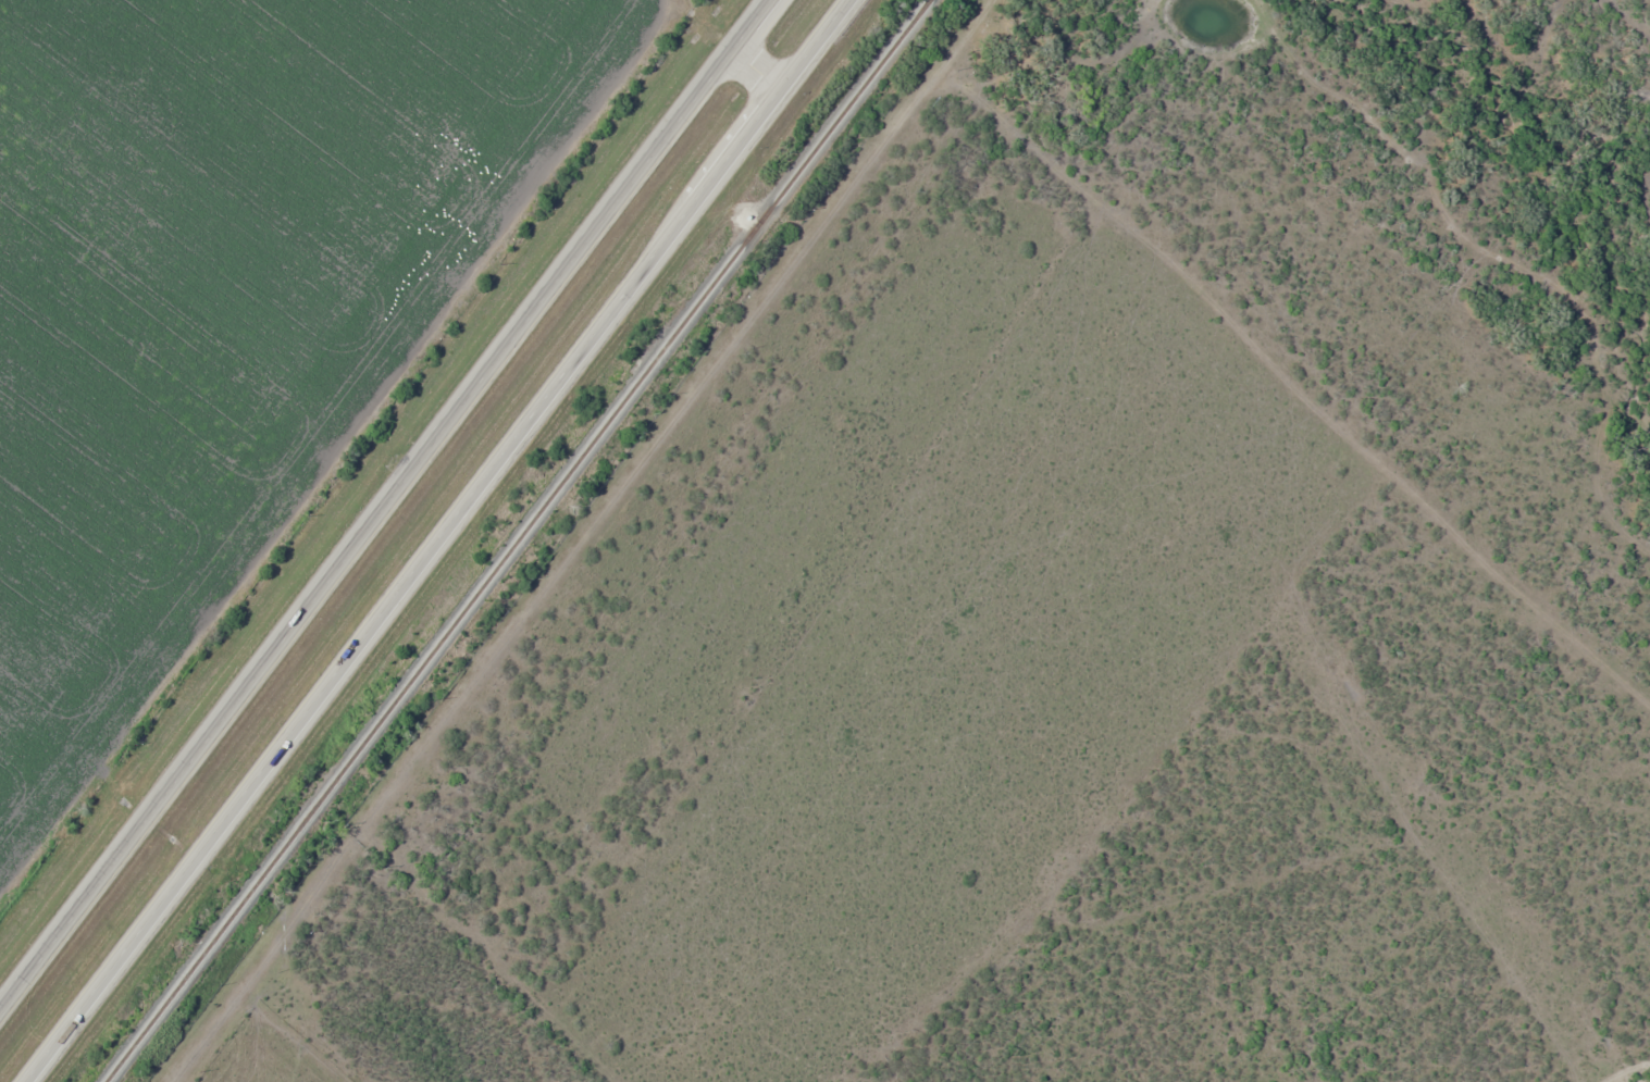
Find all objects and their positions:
road: (760, 72)
road: (383, 502)
railway: (522, 540)
road: (598, 540)
road: (450, 542)

